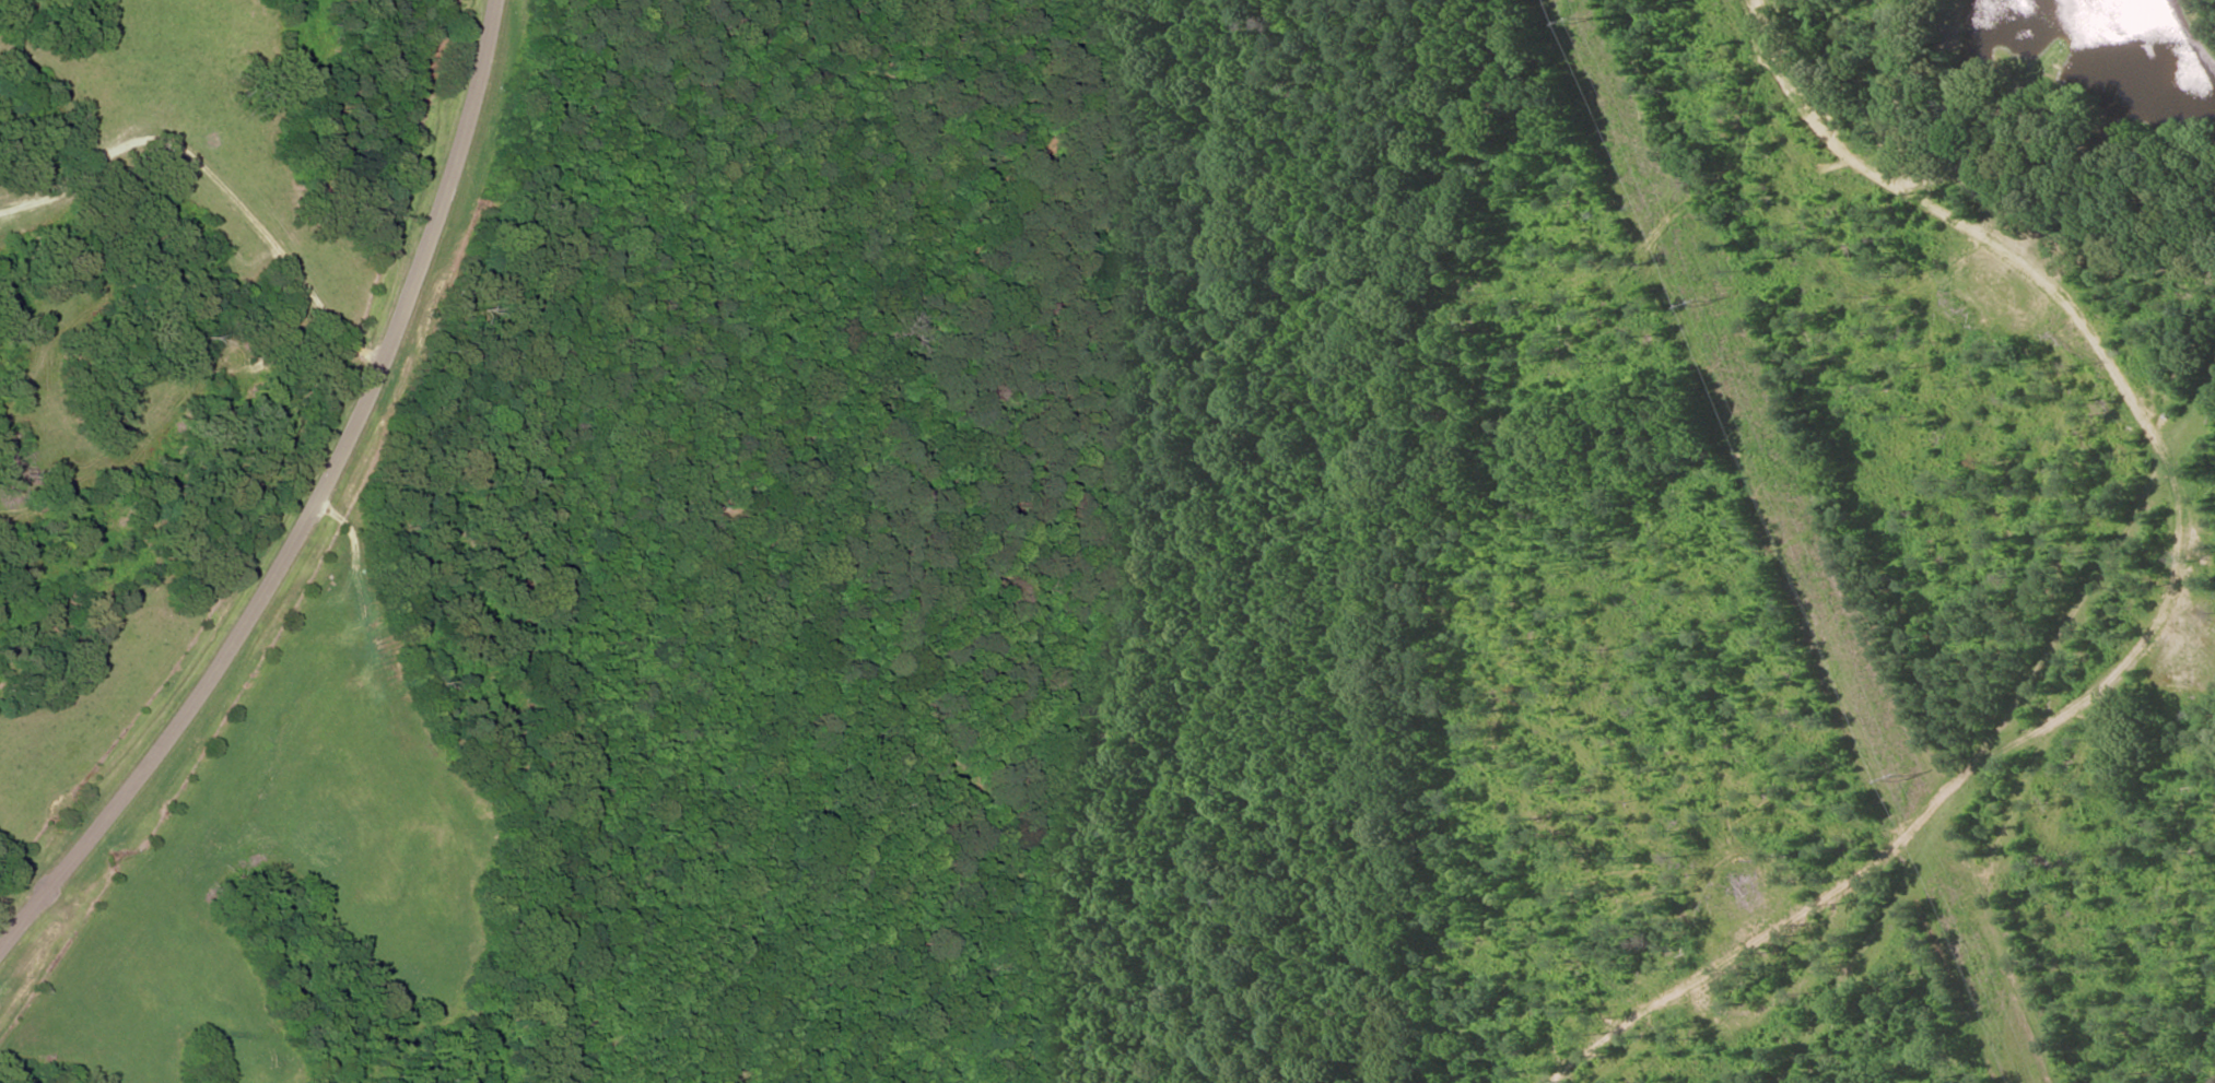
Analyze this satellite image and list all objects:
power tower: (1578, 21)
power tower: (1699, 305)
road: (307, 502)
power tower: (1901, 780)

